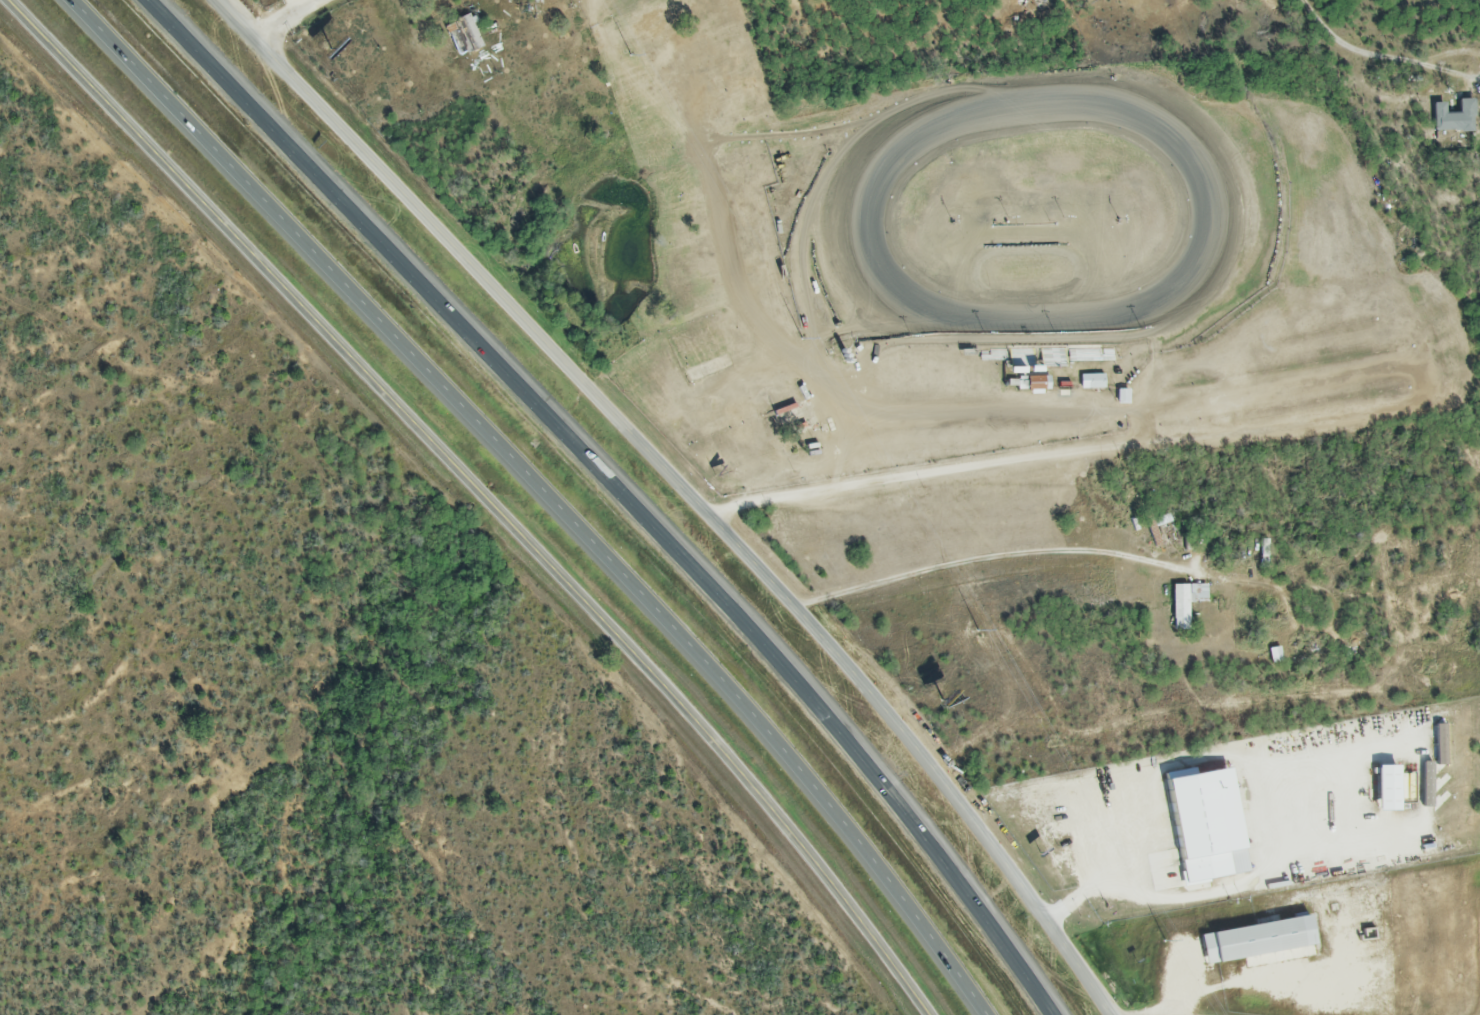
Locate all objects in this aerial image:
road: (307, 4)
road: (292, 16)
building: (465, 35)
road: (609, 47)
power tower: (626, 49)
road: (1349, 50)
road: (1449, 53)
road: (1449, 73)
building: (1453, 118)
power tower: (802, 343)
building: (1018, 359)
building: (1050, 359)
building: (1093, 383)
building: (1036, 385)
road: (974, 467)
road: (544, 490)
road: (621, 492)
road: (686, 494)
road: (475, 498)
road: (992, 558)
building: (1184, 604)
power tower: (983, 634)
building: (1273, 656)
road: (1097, 877)
power tower: (1159, 930)
road: (1182, 983)

